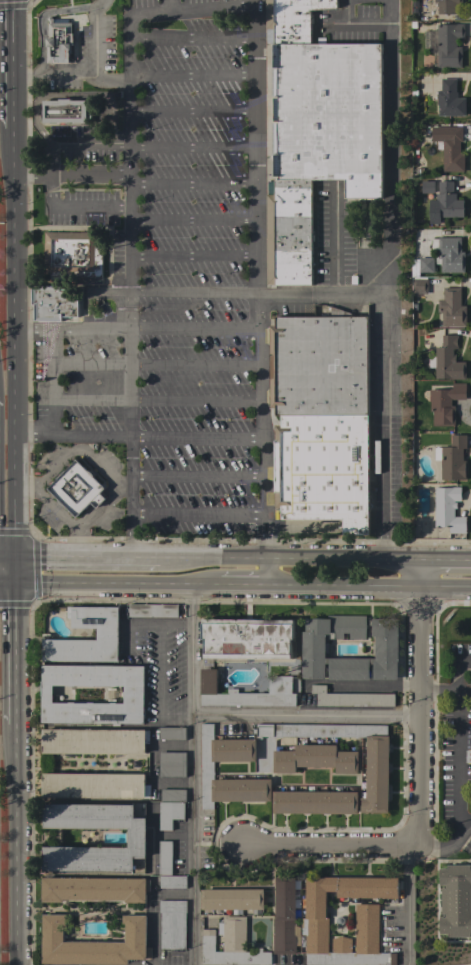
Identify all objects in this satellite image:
building: (448, 6)
road: (192, 9)
building: (292, 19)
building: (59, 41)
building: (447, 44)
road: (12, 63)
road: (90, 73)
road: (110, 77)
road: (191, 78)
building: (449, 99)
building: (67, 110)
road: (192, 112)
building: (328, 115)
road: (90, 142)
road: (192, 148)
building: (450, 148)
road: (52, 159)
road: (90, 176)
road: (33, 177)
road: (192, 184)
building: (427, 187)
road: (48, 192)
building: (445, 203)
road: (88, 208)
road: (192, 220)
building: (289, 232)
building: (72, 254)
building: (450, 255)
road: (193, 257)
building: (421, 266)
road: (382, 278)
road: (128, 286)
building: (419, 286)
road: (193, 294)
road: (318, 294)
road: (258, 295)
building: (53, 303)
building: (452, 308)
road: (137, 330)
road: (15, 342)
building: (448, 360)
building: (319, 364)
road: (155, 365)
road: (50, 383)
road: (156, 403)
building: (445, 403)
road: (33, 437)
road: (156, 438)
building: (452, 459)
building: (323, 469)
road: (196, 475)
road: (27, 487)
road: (115, 487)
building: (76, 488)
road: (122, 490)
rooftop solar panel: (438, 503)
building: (448, 509)
road: (197, 516)
road: (78, 542)
road: (8, 556)
traffic signals: (17, 557)
road: (86, 558)
road: (289, 558)
road: (448, 559)
road: (17, 563)
road: (424, 575)
road: (17, 578)
road: (9, 585)
traffic signals: (18, 586)
road: (116, 588)
road: (241, 591)
road: (369, 591)
building: (152, 610)
road: (145, 625)
building: (107, 634)
building: (247, 638)
building: (384, 648)
road: (18, 655)
building: (279, 682)
road: (159, 689)
road: (443, 692)
building: (133, 693)
building: (350, 698)
road: (309, 717)
road: (424, 718)
building: (171, 733)
building: (94, 741)
building: (468, 756)
building: (315, 758)
building: (171, 764)
road: (463, 767)
building: (377, 768)
building: (207, 770)
road: (195, 778)
building: (94, 785)
building: (172, 795)
building: (314, 802)
building: (169, 814)
road: (467, 828)
building: (137, 837)
road: (18, 845)
road: (333, 846)
building: (164, 858)
building: (172, 881)
building: (94, 889)
road: (173, 893)
building: (232, 899)
building: (455, 900)
road: (407, 905)
building: (285, 917)
building: (172, 924)
building: (366, 927)
road: (153, 929)
building: (93, 943)
building: (231, 945)

